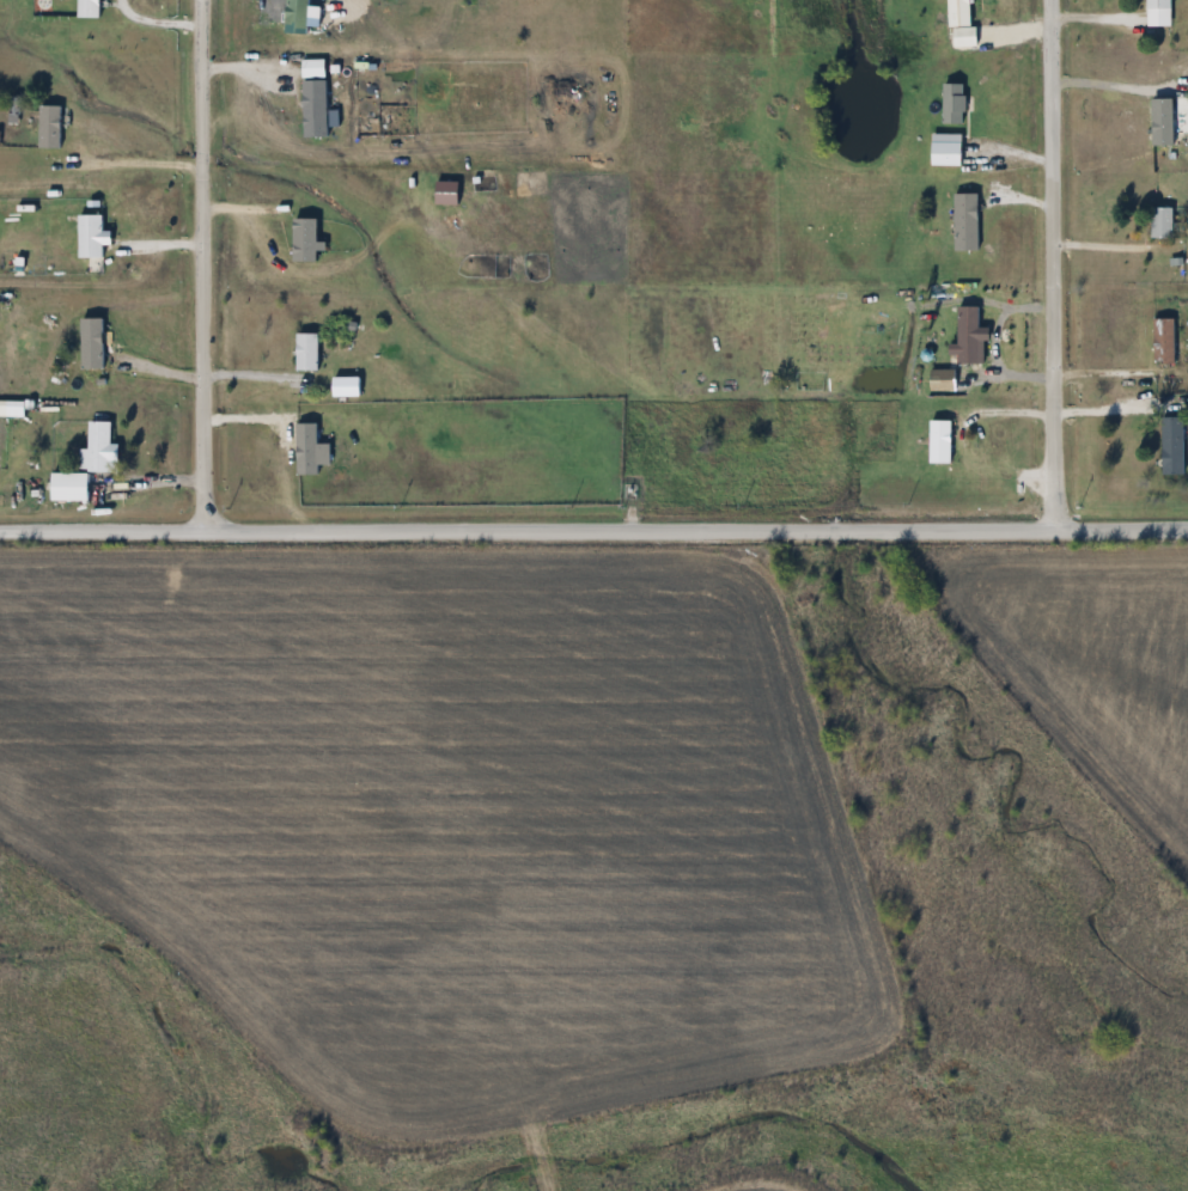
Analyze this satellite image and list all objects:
building: (1159, 5)
building: (90, 8)
building: (958, 13)
road: (153, 22)
road: (1120, 100)
building: (955, 105)
building: (16, 110)
road: (133, 157)
building: (968, 224)
building: (1163, 224)
building: (91, 238)
road: (1053, 262)
road: (194, 265)
building: (1165, 341)
building: (309, 354)
building: (17, 410)
building: (1175, 446)
building: (100, 447)
building: (72, 488)
road: (593, 530)

